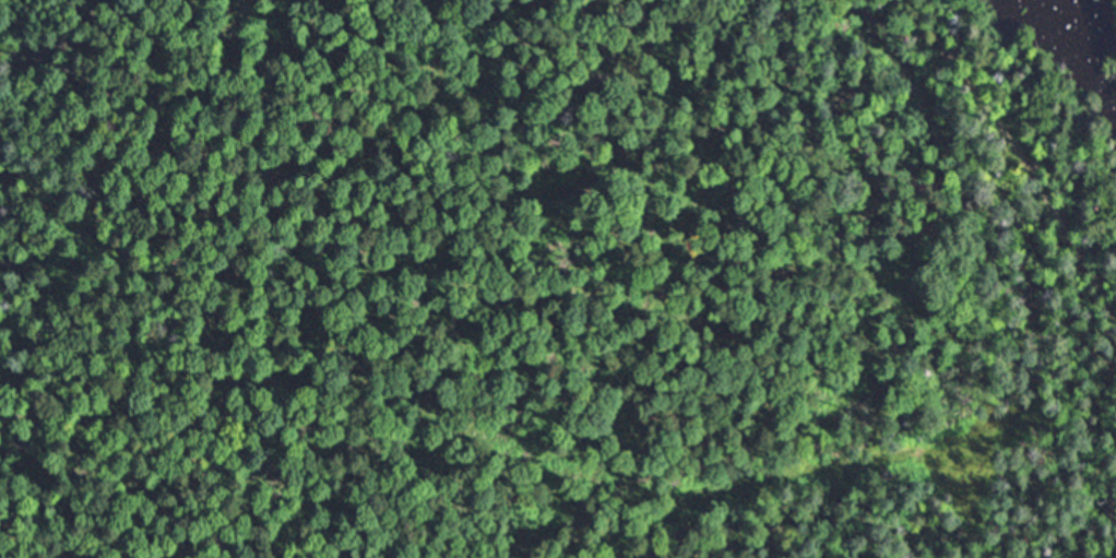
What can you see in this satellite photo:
river: (1082, 43)

